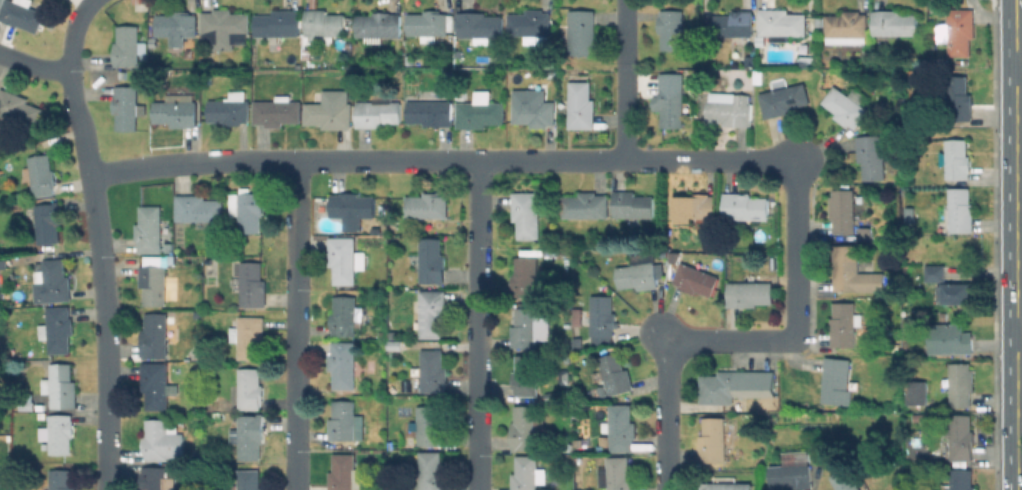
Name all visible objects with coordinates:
road: (1019, 3)
building: (139, 5)
building: (22, 14)
building: (894, 23)
building: (278, 24)
road: (1019, 24)
building: (430, 25)
building: (530, 25)
building: (323, 26)
building: (378, 26)
building: (479, 26)
building: (734, 26)
building: (779, 26)
building: (177, 27)
building: (846, 28)
building: (225, 29)
building: (671, 30)
road: (73, 31)
building: (961, 32)
building: (579, 33)
building: (129, 46)
road: (1019, 52)
road: (1020, 62)
building: (809, 64)
road: (34, 65)
building: (756, 75)
road: (622, 79)
building: (957, 98)
building: (783, 100)
building: (671, 106)
building: (581, 107)
building: (127, 108)
building: (845, 108)
building: (230, 109)
building: (18, 110)
building: (330, 110)
building: (731, 111)
building: (277, 112)
building: (431, 113)
building: (534, 113)
building: (176, 114)
building: (378, 114)
building: (479, 114)
building: (873, 157)
road: (440, 160)
building: (957, 161)
building: (42, 176)
building: (430, 206)
building: (634, 206)
building: (585, 207)
building: (198, 208)
building: (353, 209)
building: (695, 209)
building: (247, 210)
building: (747, 210)
building: (843, 210)
building: (960, 212)
building: (526, 214)
building: (49, 224)
building: (150, 229)
road: (792, 248)
building: (345, 260)
building: (433, 262)
building: (854, 272)
building: (638, 273)
building: (936, 273)
road: (1019, 276)
building: (526, 277)
road: (102, 278)
building: (695, 279)
building: (53, 283)
building: (153, 284)
building: (252, 285)
building: (749, 294)
building: (956, 294)
building: (434, 314)
building: (344, 316)
building: (604, 316)
road: (297, 325)
road: (478, 325)
building: (846, 326)
building: (526, 328)
building: (58, 330)
road: (1021, 330)
building: (155, 336)
building: (248, 336)
road: (730, 339)
building: (951, 340)
building: (343, 365)
building: (433, 372)
building: (526, 376)
building: (616, 376)
building: (836, 381)
building: (963, 385)
building: (61, 386)
building: (157, 386)
building: (737, 387)
building: (250, 389)
building: (918, 393)
building: (28, 407)
road: (667, 407)
building: (345, 422)
building: (432, 428)
building: (524, 428)
building: (620, 428)
building: (59, 434)
building: (249, 438)
building: (962, 439)
building: (162, 441)
building: (713, 441)
building: (432, 472)
building: (795, 472)
building: (345, 473)
building: (527, 473)
building: (618, 474)
building: (153, 478)
building: (61, 480)
building: (249, 480)
building: (960, 480)
building: (847, 481)
building: (728, 487)

